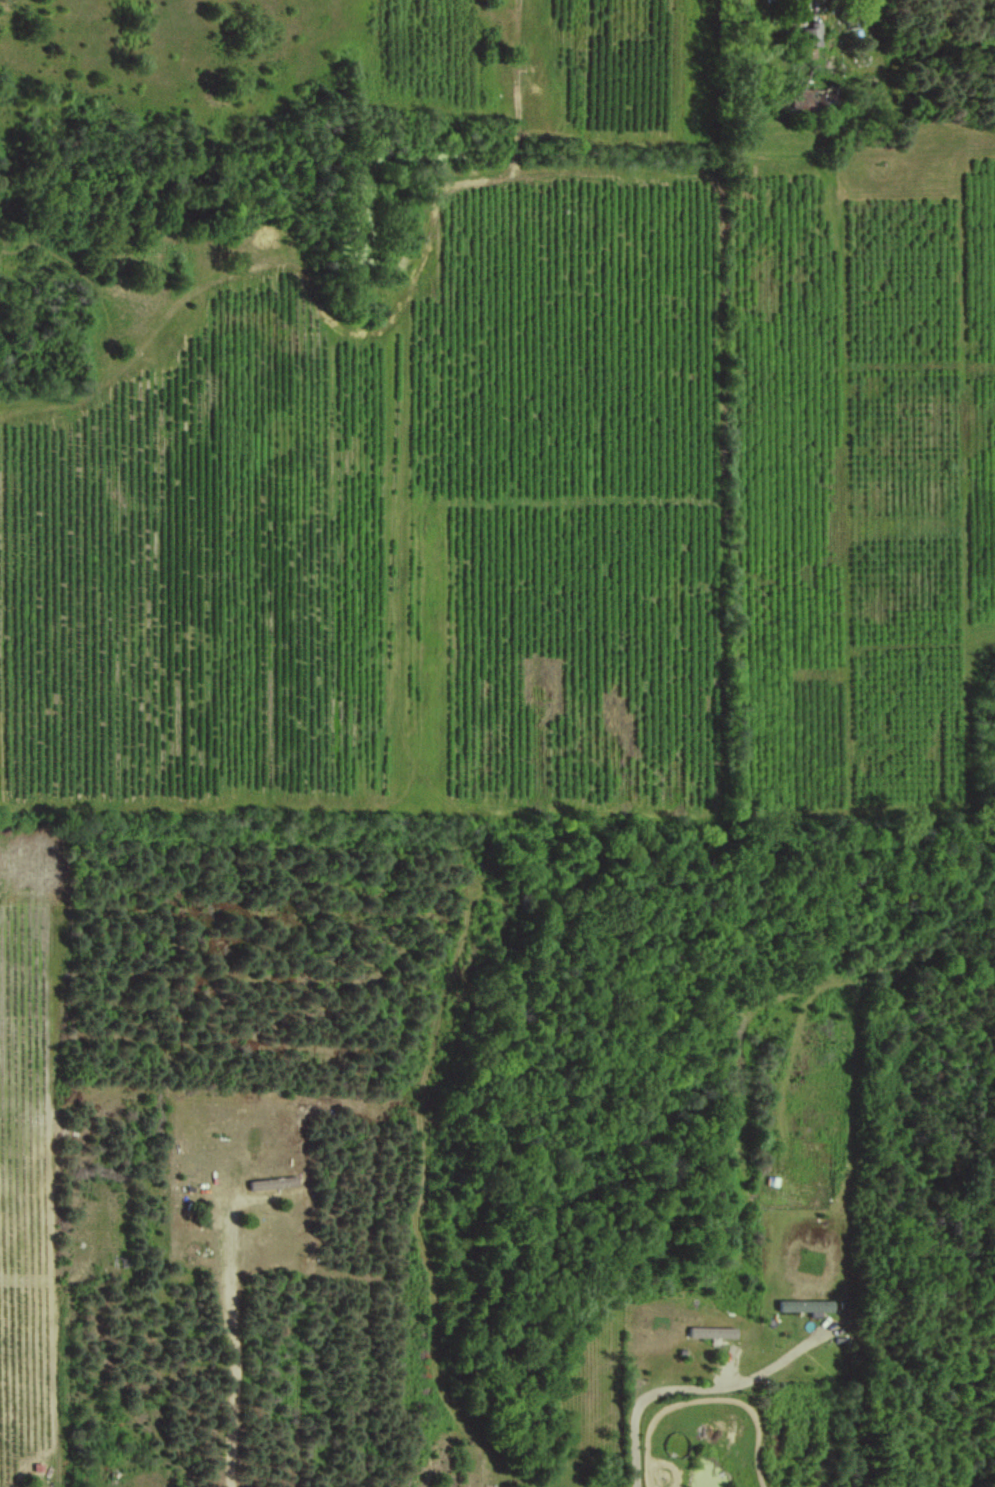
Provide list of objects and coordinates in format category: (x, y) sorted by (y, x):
building: (813, 34)
building: (807, 1305)
building: (712, 1331)
road: (231, 1354)
road: (686, 1381)

